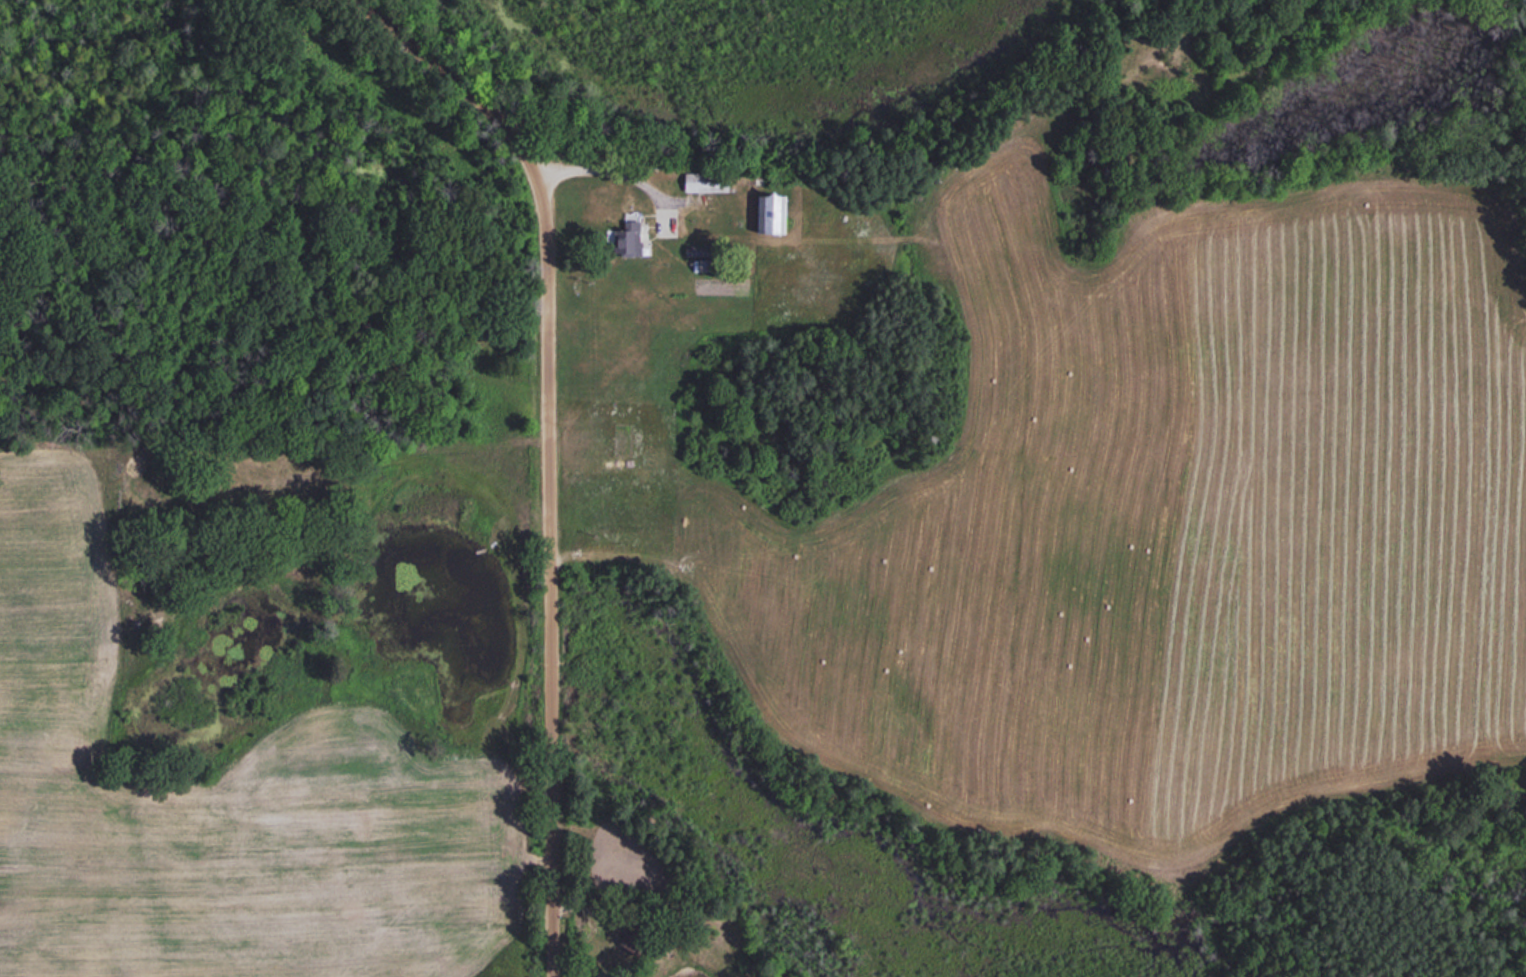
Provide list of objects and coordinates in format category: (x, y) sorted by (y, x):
building: (704, 182)
building: (769, 215)
building: (628, 240)
road: (551, 444)

